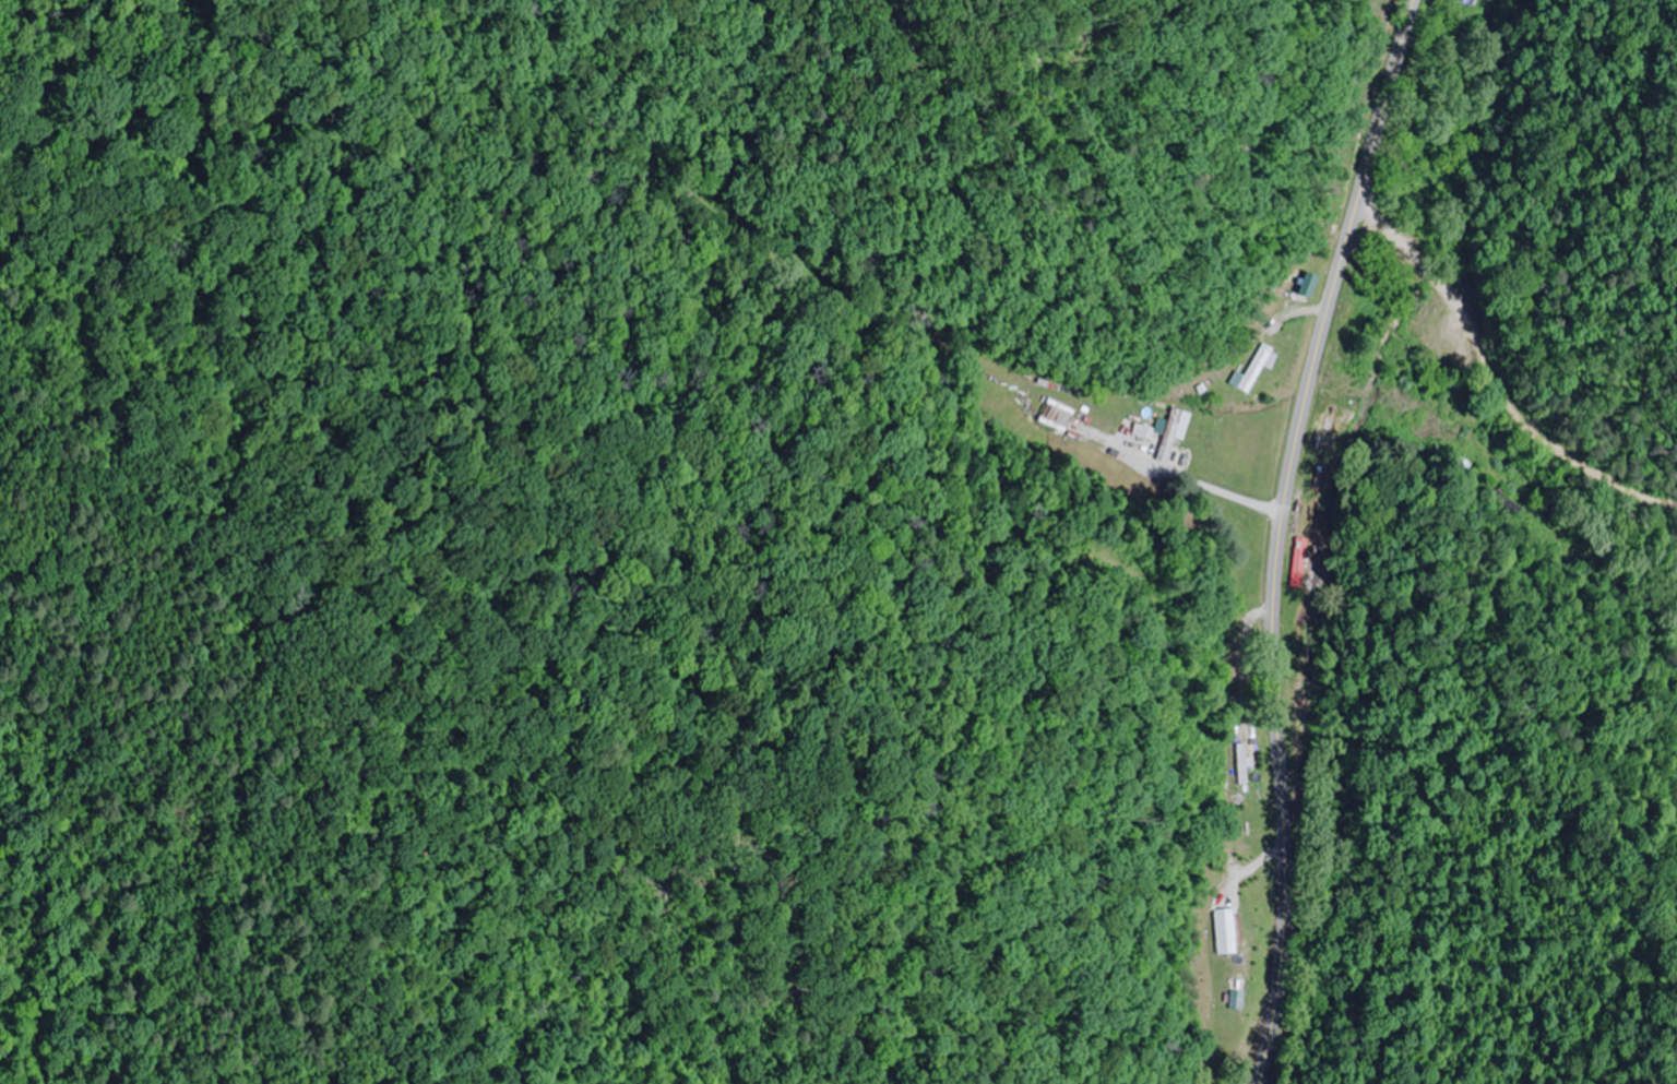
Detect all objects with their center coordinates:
road: (1440, 357)
building: (1261, 367)
building: (1149, 431)
building: (1177, 433)
road: (1282, 534)
road: (1158, 619)
building: (1246, 763)
building: (1230, 931)

